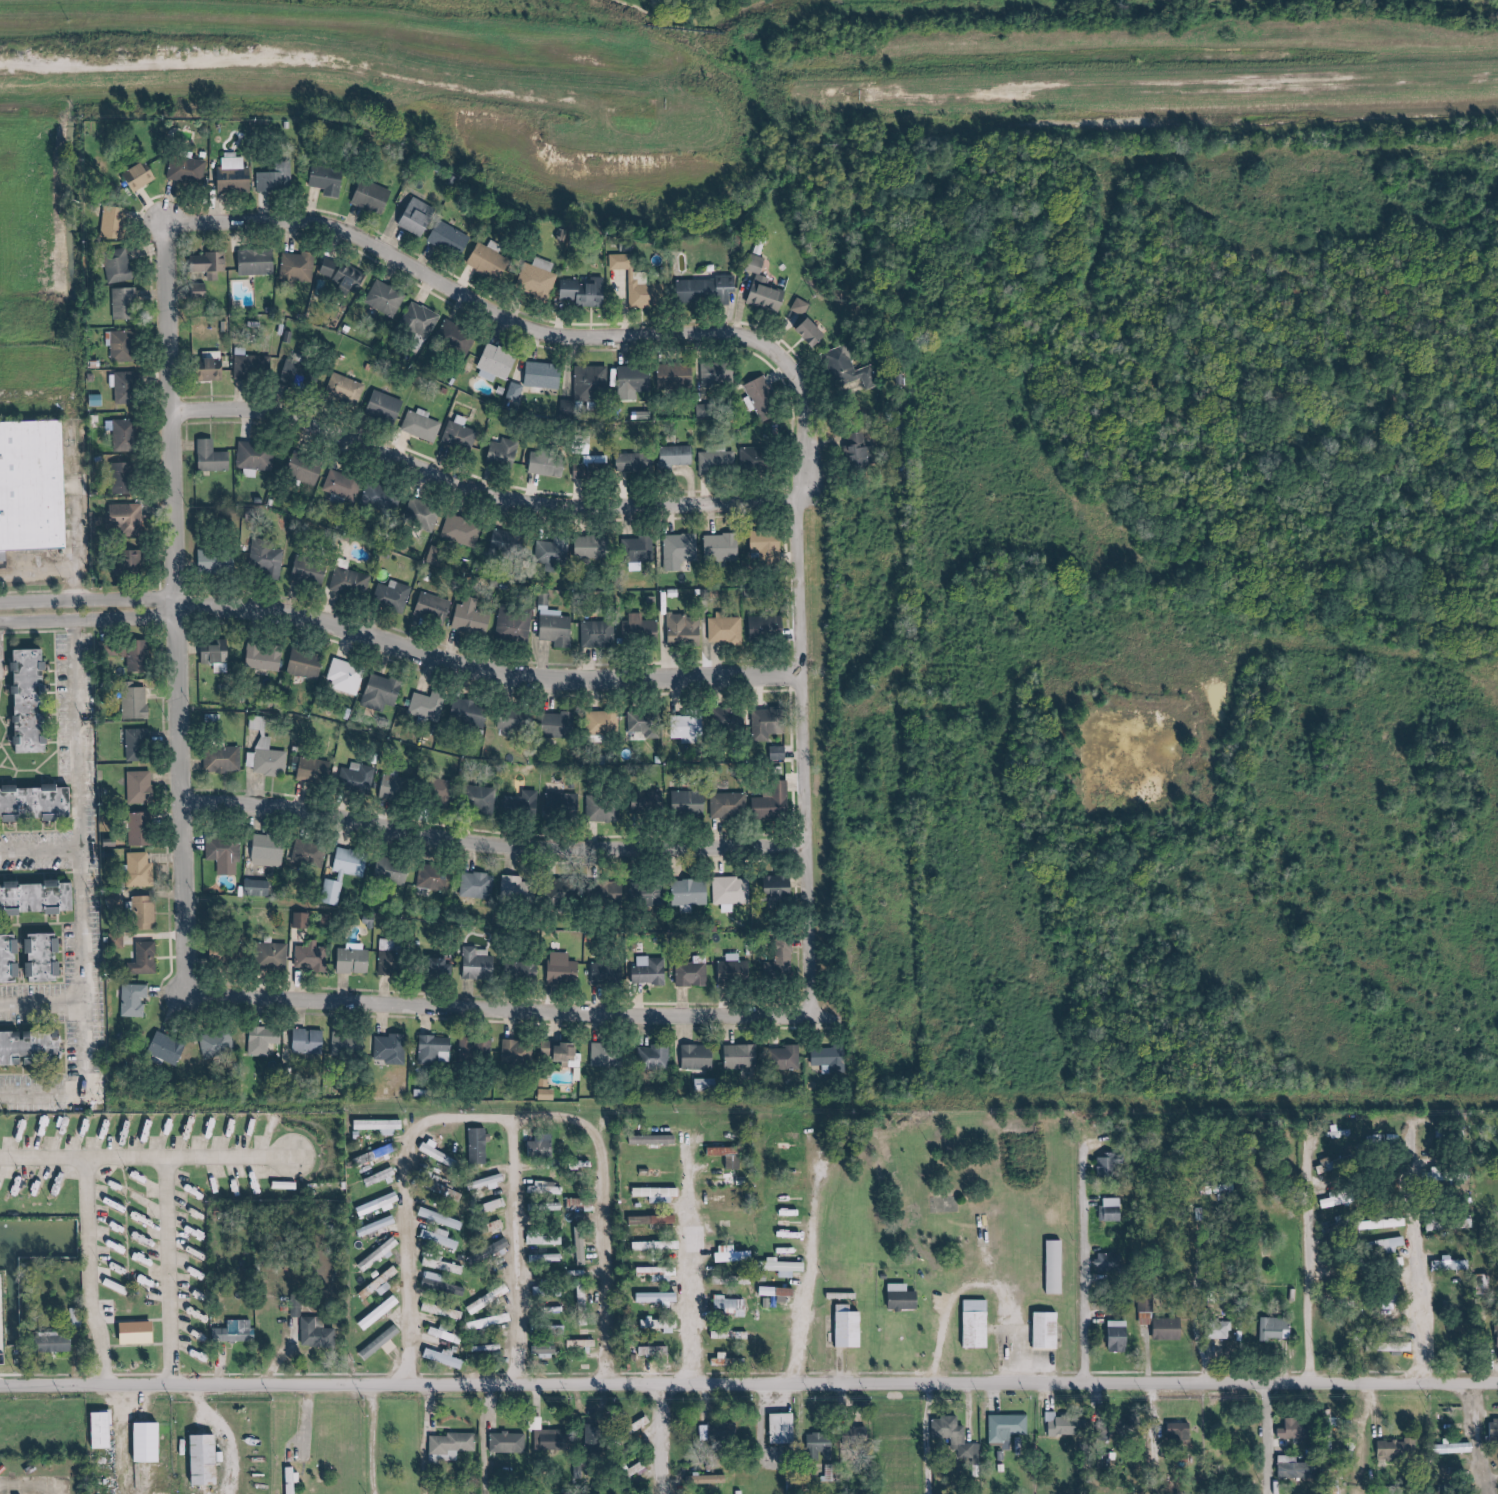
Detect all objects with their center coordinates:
road: (1155, 83)
building: (189, 170)
building: (143, 176)
building: (237, 176)
building: (278, 179)
building: (331, 180)
building: (375, 197)
building: (421, 217)
building: (117, 221)
building: (454, 239)
building: (260, 263)
building: (214, 264)
building: (120, 265)
building: (300, 266)
building: (344, 273)
building: (539, 282)
building: (642, 282)
road: (462, 289)
building: (710, 289)
building: (202, 291)
building: (588, 291)
building: (770, 294)
building: (387, 298)
building: (127, 303)
building: (804, 306)
building: (422, 319)
building: (817, 332)
building: (124, 345)
building: (498, 363)
building: (216, 365)
building: (253, 365)
building: (851, 369)
building: (300, 373)
building: (545, 374)
building: (718, 374)
building: (677, 376)
building: (636, 382)
building: (592, 383)
building: (128, 387)
building: (348, 388)
building: (516, 392)
building: (762, 395)
building: (388, 407)
building: (424, 426)
building: (463, 432)
building: (127, 434)
building: (862, 450)
building: (506, 452)
building: (679, 455)
building: (258, 456)
building: (216, 457)
building: (759, 458)
building: (637, 462)
building: (720, 463)
building: (547, 464)
building: (598, 464)
building: (307, 470)
building: (582, 471)
building: (127, 478)
building: (344, 485)
building: (29, 488)
road: (492, 491)
building: (381, 499)
building: (419, 511)
building: (130, 517)
building: (461, 530)
building: (506, 541)
building: (769, 546)
building: (594, 547)
building: (723, 547)
building: (639, 549)
building: (552, 550)
building: (681, 550)
building: (435, 553)
building: (269, 557)
building: (221, 560)
building: (134, 562)
building: (313, 572)
building: (352, 582)
building: (396, 594)
building: (435, 606)
building: (471, 617)
building: (513, 626)
building: (768, 626)
building: (642, 628)
building: (558, 630)
building: (726, 630)
building: (685, 631)
road: (22, 633)
building: (599, 633)
road: (407, 647)
building: (140, 655)
building: (220, 655)
building: (266, 657)
building: (308, 665)
building: (347, 676)
road: (816, 676)
building: (383, 693)
building: (21, 701)
building: (139, 702)
building: (428, 705)
road: (48, 708)
building: (471, 712)
building: (731, 719)
building: (516, 721)
building: (606, 722)
building: (646, 723)
building: (769, 723)
building: (562, 725)
building: (691, 731)
road: (186, 743)
building: (141, 744)
building: (267, 752)
building: (780, 753)
building: (224, 759)
building: (317, 769)
road: (4, 770)
road: (25, 771)
road: (40, 777)
building: (358, 777)
building: (143, 786)
building: (395, 786)
building: (485, 798)
building: (652, 801)
building: (525, 802)
building: (691, 802)
building: (31, 803)
building: (566, 804)
building: (730, 804)
building: (774, 805)
building: (603, 810)
building: (143, 828)
road: (41, 832)
road: (498, 849)
building: (271, 850)
road: (41, 853)
building: (226, 853)
building: (310, 853)
building: (141, 869)
building: (393, 870)
building: (347, 872)
building: (434, 877)
building: (478, 885)
building: (518, 886)
building: (782, 887)
building: (260, 888)
building: (609, 891)
building: (732, 892)
road: (82, 894)
building: (690, 894)
building: (33, 896)
building: (118, 902)
building: (146, 911)
building: (304, 920)
building: (35, 955)
building: (277, 955)
building: (5, 956)
building: (312, 956)
building: (226, 957)
building: (392, 957)
building: (147, 958)
building: (355, 958)
building: (783, 961)
building: (444, 965)
building: (480, 965)
building: (564, 968)
building: (523, 970)
building: (652, 970)
building: (738, 972)
building: (608, 974)
building: (693, 974)
road: (55, 981)
building: (136, 999)
road: (42, 1002)
road: (965, 1022)
building: (265, 1039)
building: (310, 1041)
building: (350, 1044)
building: (219, 1045)
building: (26, 1048)
building: (171, 1048)
building: (393, 1048)
building: (438, 1049)
building: (477, 1050)
building: (521, 1052)
building: (567, 1054)
building: (608, 1054)
building: (744, 1055)
building: (657, 1056)
building: (700, 1056)
building: (787, 1057)
building: (832, 1058)
building: (707, 1084)
building: (550, 1094)
road: (555, 1116)
building: (382, 1125)
building: (656, 1139)
building: (480, 1146)
building: (542, 1148)
building: (384, 1151)
building: (439, 1152)
building: (731, 1156)
road: (146, 1158)
building: (549, 1189)
building: (661, 1194)
building: (382, 1203)
road: (410, 1203)
building: (1336, 1213)
building: (442, 1218)
building: (657, 1219)
building: (380, 1225)
building: (1436, 1227)
building: (547, 1238)
building: (442, 1239)
building: (583, 1245)
building: (661, 1245)
building: (382, 1254)
building: (735, 1254)
building: (548, 1258)
road: (695, 1261)
road: (1082, 1262)
building: (435, 1263)
building: (1110, 1263)
building: (1389, 1263)
building: (1058, 1266)
building: (788, 1267)
road: (1308, 1270)
road: (170, 1271)
road: (811, 1271)
road: (93, 1272)
building: (383, 1284)
building: (447, 1284)
building: (771, 1291)
building: (788, 1293)
building: (586, 1296)
building: (661, 1296)
building: (906, 1297)
building: (729, 1302)
building: (446, 1310)
building: (383, 1312)
road: (1408, 1312)
building: (1145, 1313)
building: (1486, 1315)
building: (495, 1321)
building: (980, 1323)
building: (662, 1324)
building: (853, 1326)
building: (1169, 1328)
building: (1451, 1328)
building: (1050, 1330)
building: (1282, 1330)
building: (239, 1331)
building: (1218, 1331)
building: (1340, 1331)
building: (142, 1333)
building: (319, 1333)
building: (727, 1334)
building: (449, 1335)
building: (1494, 1338)
building: (62, 1343)
building: (385, 1343)
building: (586, 1343)
building: (1391, 1345)
building: (548, 1350)
building: (656, 1351)
building: (448, 1358)
building: (723, 1359)
road: (704, 1371)
road: (749, 1383)
building: (1326, 1420)
building: (1066, 1424)
building: (1009, 1427)
building: (786, 1428)
building: (107, 1429)
building: (1295, 1429)
building: (721, 1432)
building: (1181, 1433)
building: (1491, 1433)
road: (1273, 1436)
road: (1367, 1436)
building: (1456, 1436)
building: (958, 1437)
road: (1482, 1437)
building: (600, 1438)
road: (669, 1438)
building: (554, 1439)
building: (153, 1442)
building: (510, 1442)
building: (828, 1445)
building: (454, 1446)
building: (1396, 1451)
building: (1296, 1471)
building: (296, 1479)
building: (710, 1479)

